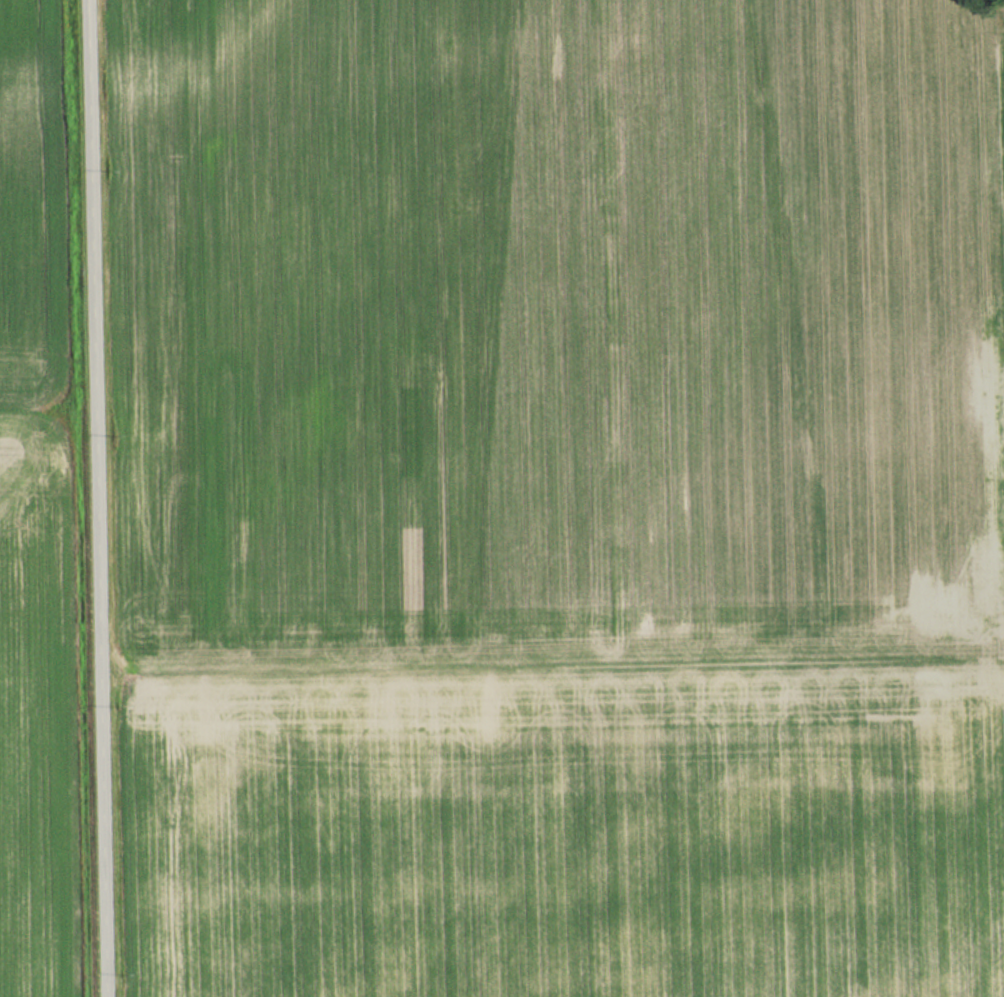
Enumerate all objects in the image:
crop: (29, 219)
road: (95, 498)
crop: (564, 498)
crop: (36, 716)

